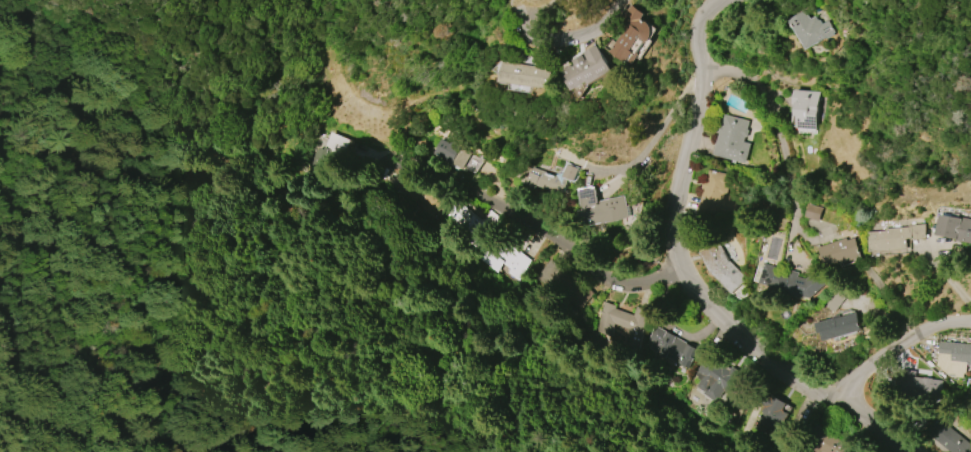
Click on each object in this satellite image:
road: (517, 8)
road: (544, 9)
building: (810, 29)
road: (573, 34)
building: (630, 35)
building: (585, 68)
building: (531, 71)
building: (805, 108)
road: (694, 130)
road: (657, 139)
building: (731, 139)
road: (783, 145)
building: (451, 153)
building: (326, 155)
building: (474, 163)
building: (552, 178)
building: (713, 192)
building: (414, 195)
building: (600, 207)
building: (813, 212)
building: (464, 222)
building: (954, 227)
building: (894, 237)
road: (550, 238)
building: (839, 251)
building: (502, 261)
building: (721, 266)
road: (947, 276)
building: (791, 282)
building: (835, 298)
building: (620, 322)
building: (838, 326)
building: (670, 347)
road: (894, 347)
building: (954, 357)
road: (179, 358)
road: (783, 372)
building: (720, 378)
building: (919, 385)
road: (800, 412)
building: (772, 413)
building: (949, 434)
building: (828, 442)

